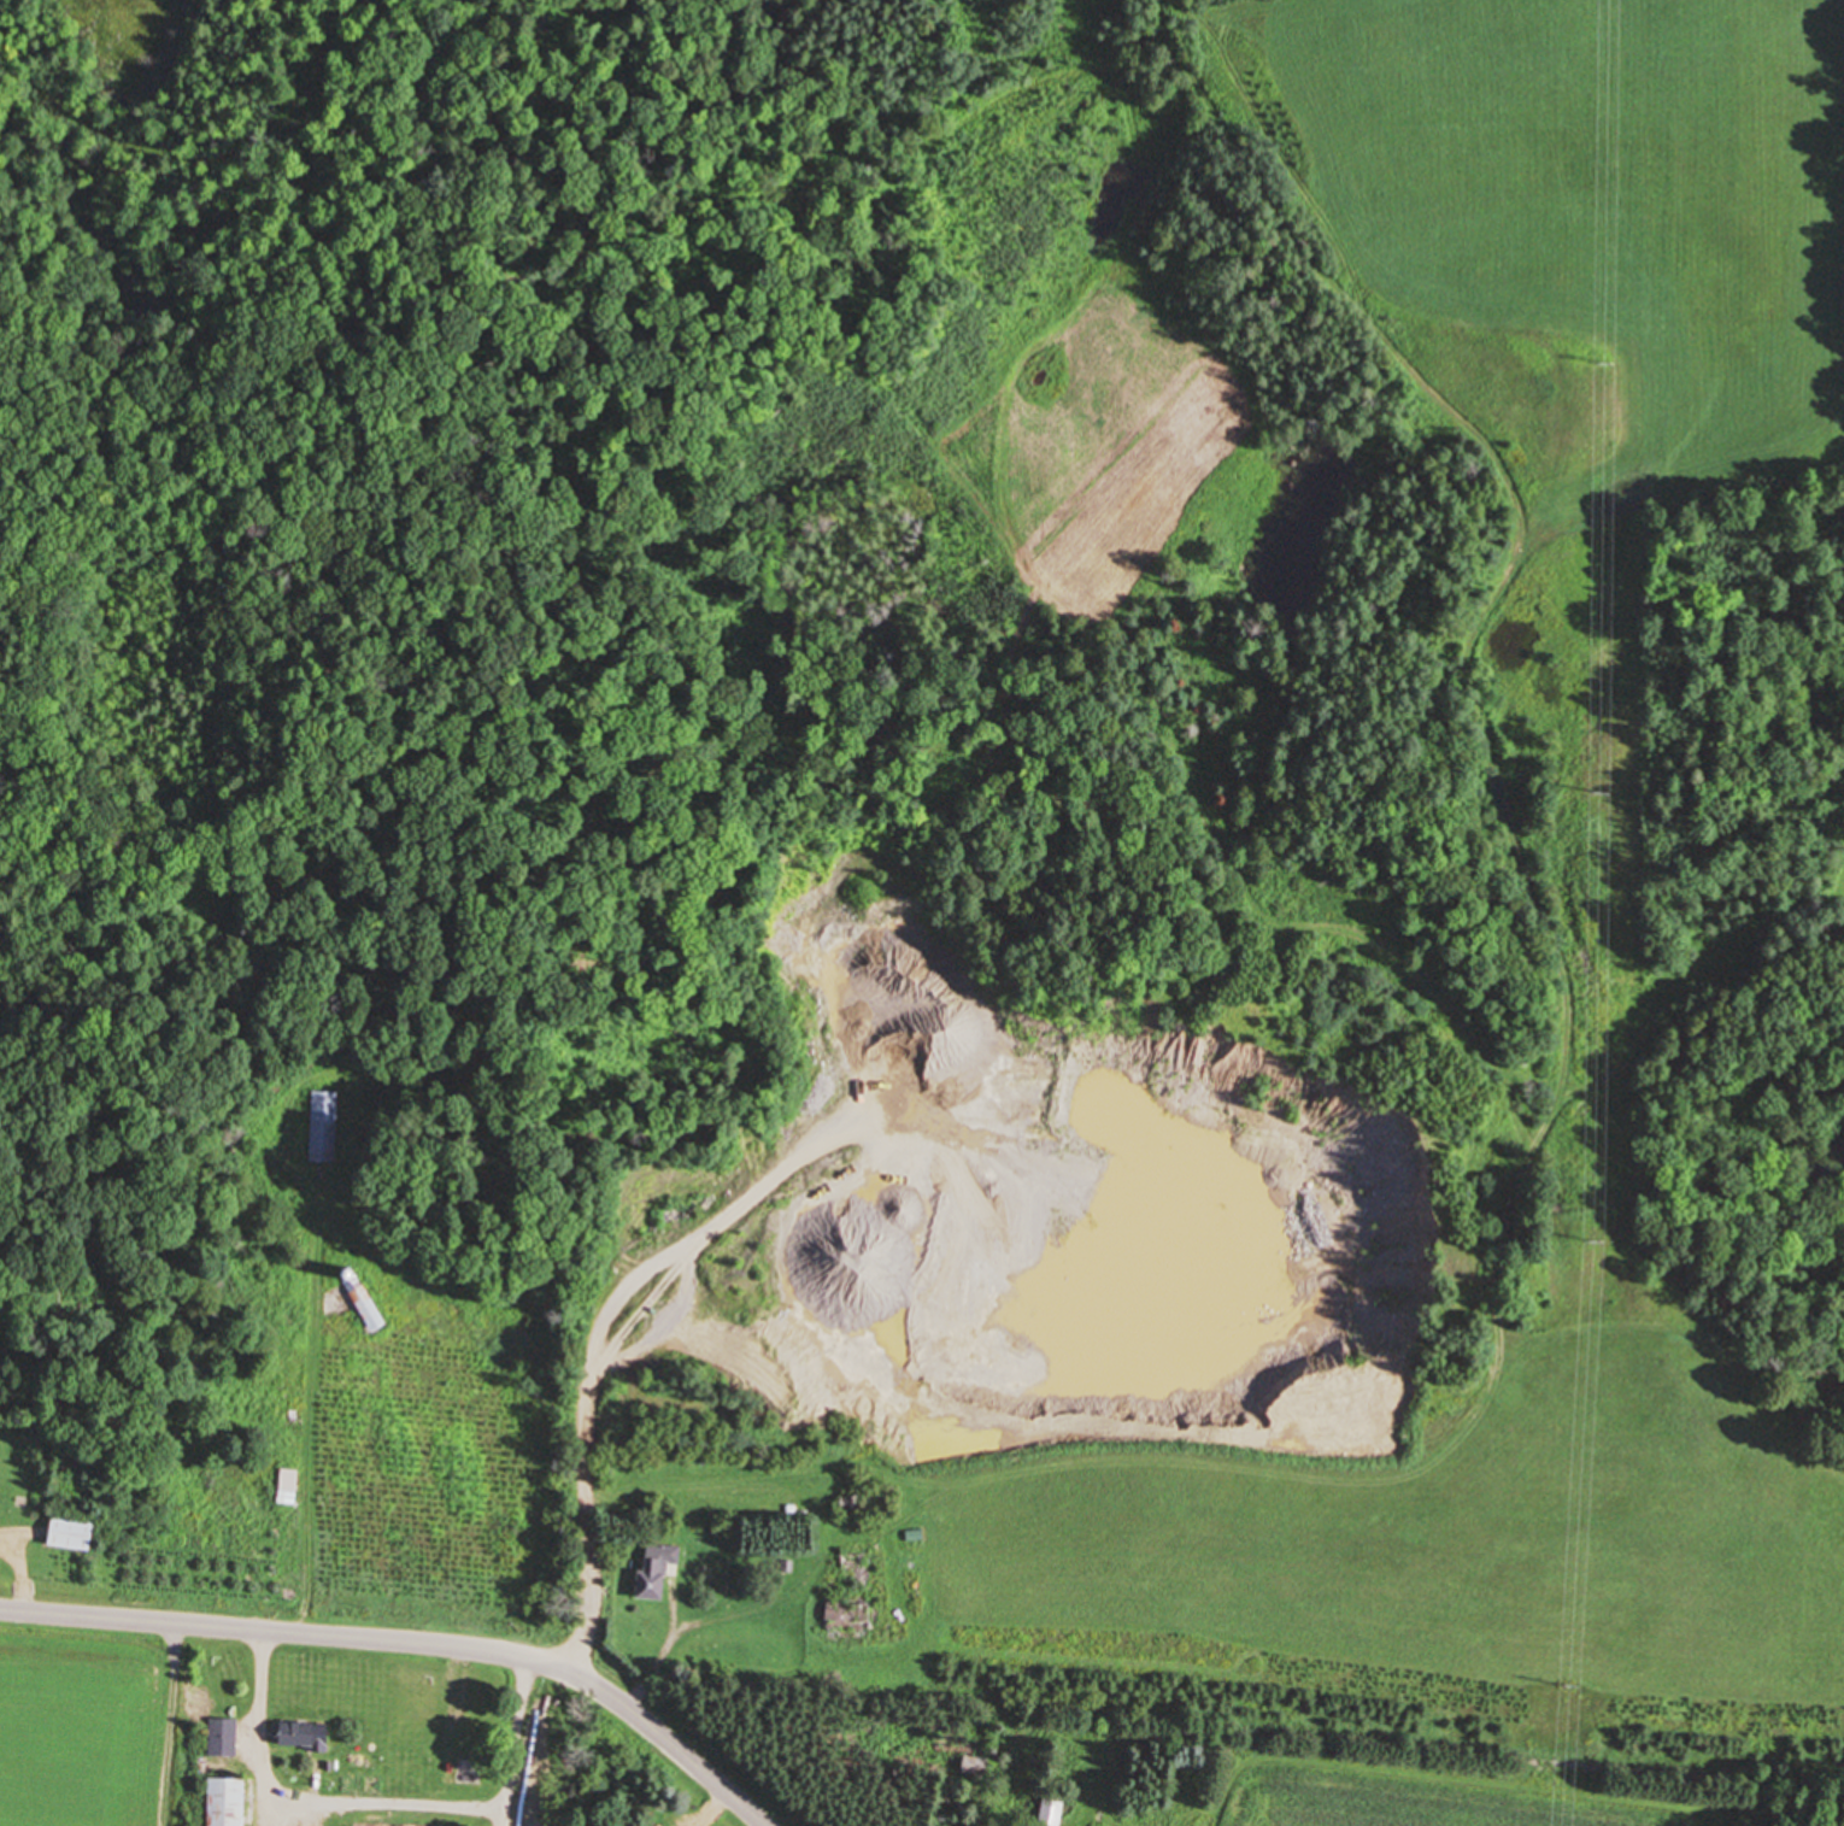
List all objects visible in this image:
power tower: (1605, 366)
power tower: (1601, 794)
building: (323, 1126)
quarry: (1003, 1184)
power tower: (1598, 1240)
road: (623, 1287)
building: (366, 1299)
building: (290, 1486)
building: (75, 1534)
road: (22, 1570)
building: (659, 1570)
building: (858, 1596)
road: (411, 1639)
road: (656, 1668)
power tower: (1569, 1689)
road: (259, 1726)
building: (306, 1734)
building: (224, 1738)
building: (228, 1802)
road: (711, 1809)

